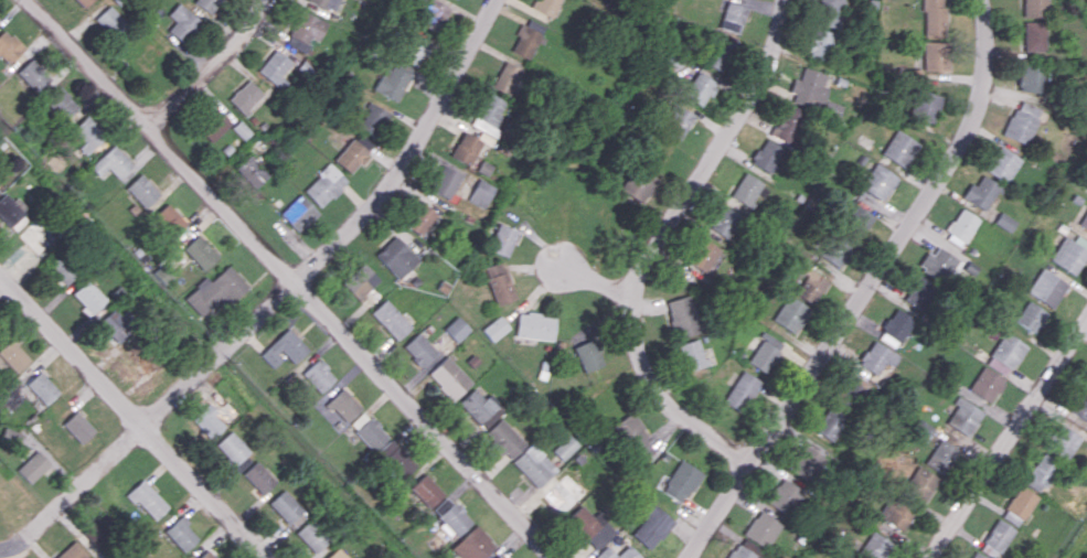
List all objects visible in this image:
road: (209, 63)
road: (342, 230)
road: (658, 243)
road: (585, 277)
road: (292, 278)
road: (1, 279)
road: (866, 289)
road: (134, 416)
road: (1008, 437)
road: (74, 490)
road: (2, 552)

